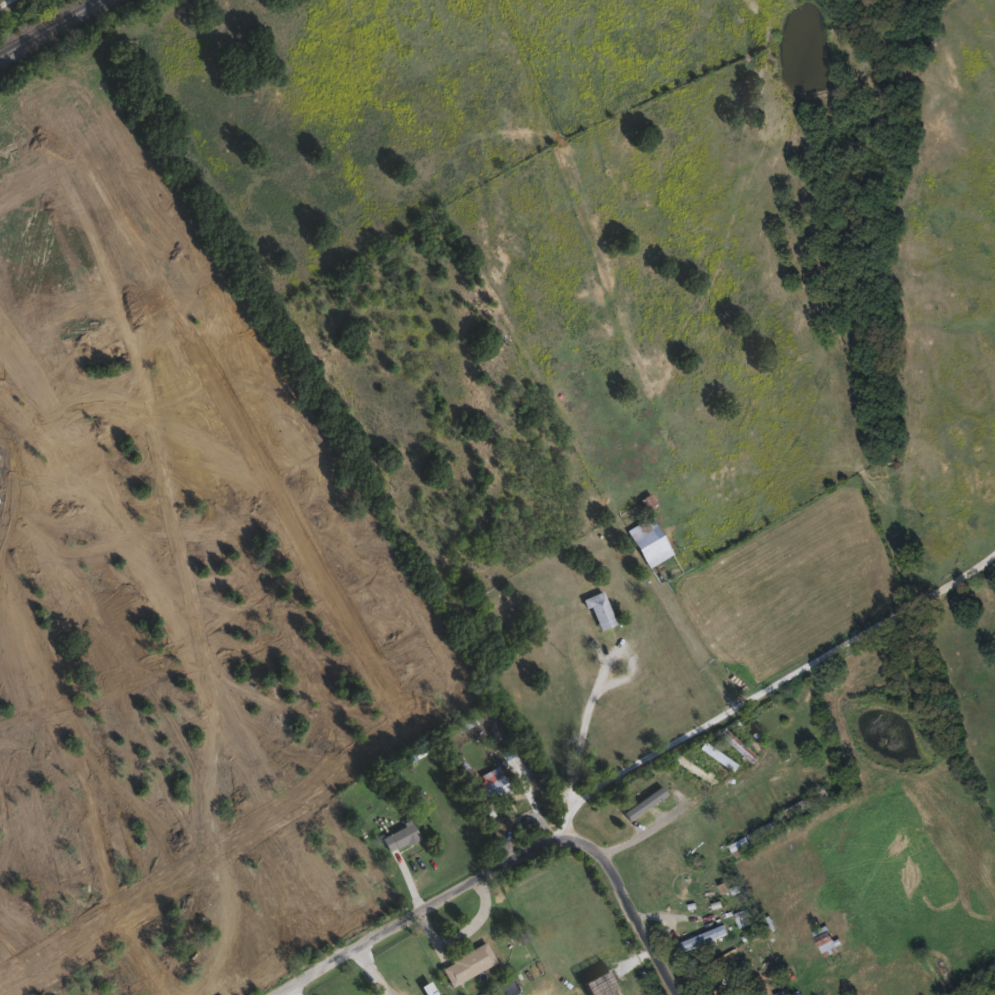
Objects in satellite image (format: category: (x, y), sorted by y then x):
railway: (46, 25)
building: (647, 541)
building: (598, 610)
road: (766, 685)
road: (587, 729)
building: (737, 746)
building: (716, 755)
building: (492, 784)
road: (812, 790)
building: (742, 803)
building: (633, 809)
road: (646, 830)
building: (399, 836)
road: (508, 862)
building: (175, 926)
building: (702, 937)
building: (824, 940)
building: (466, 963)
building: (734, 966)
road: (372, 971)

